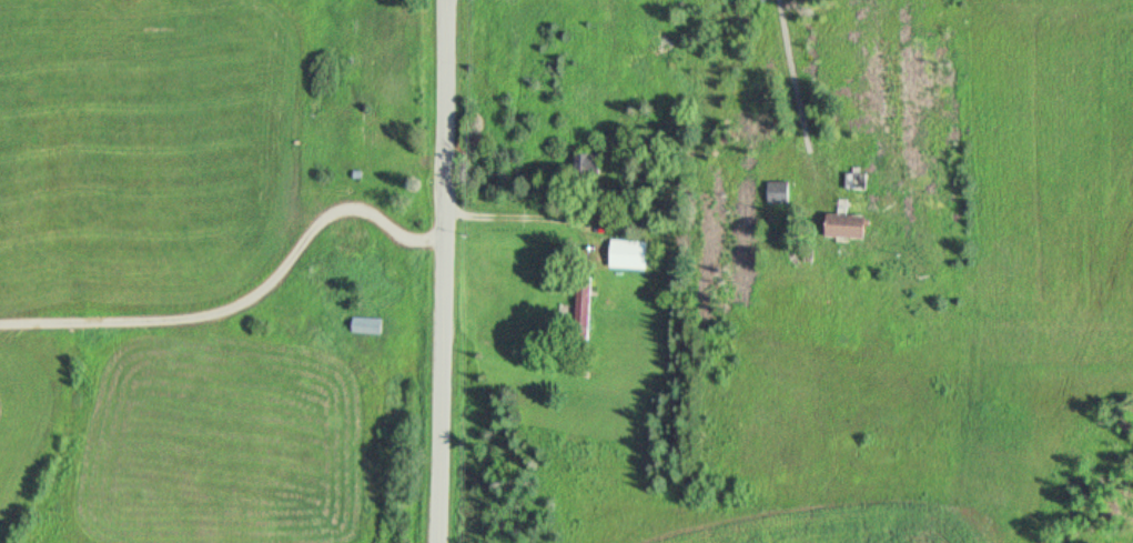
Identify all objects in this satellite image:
road: (793, 103)
building: (587, 170)
building: (858, 182)
building: (779, 194)
building: (850, 227)
building: (628, 255)
road: (452, 271)
road: (249, 299)
building: (584, 301)
building: (374, 323)

